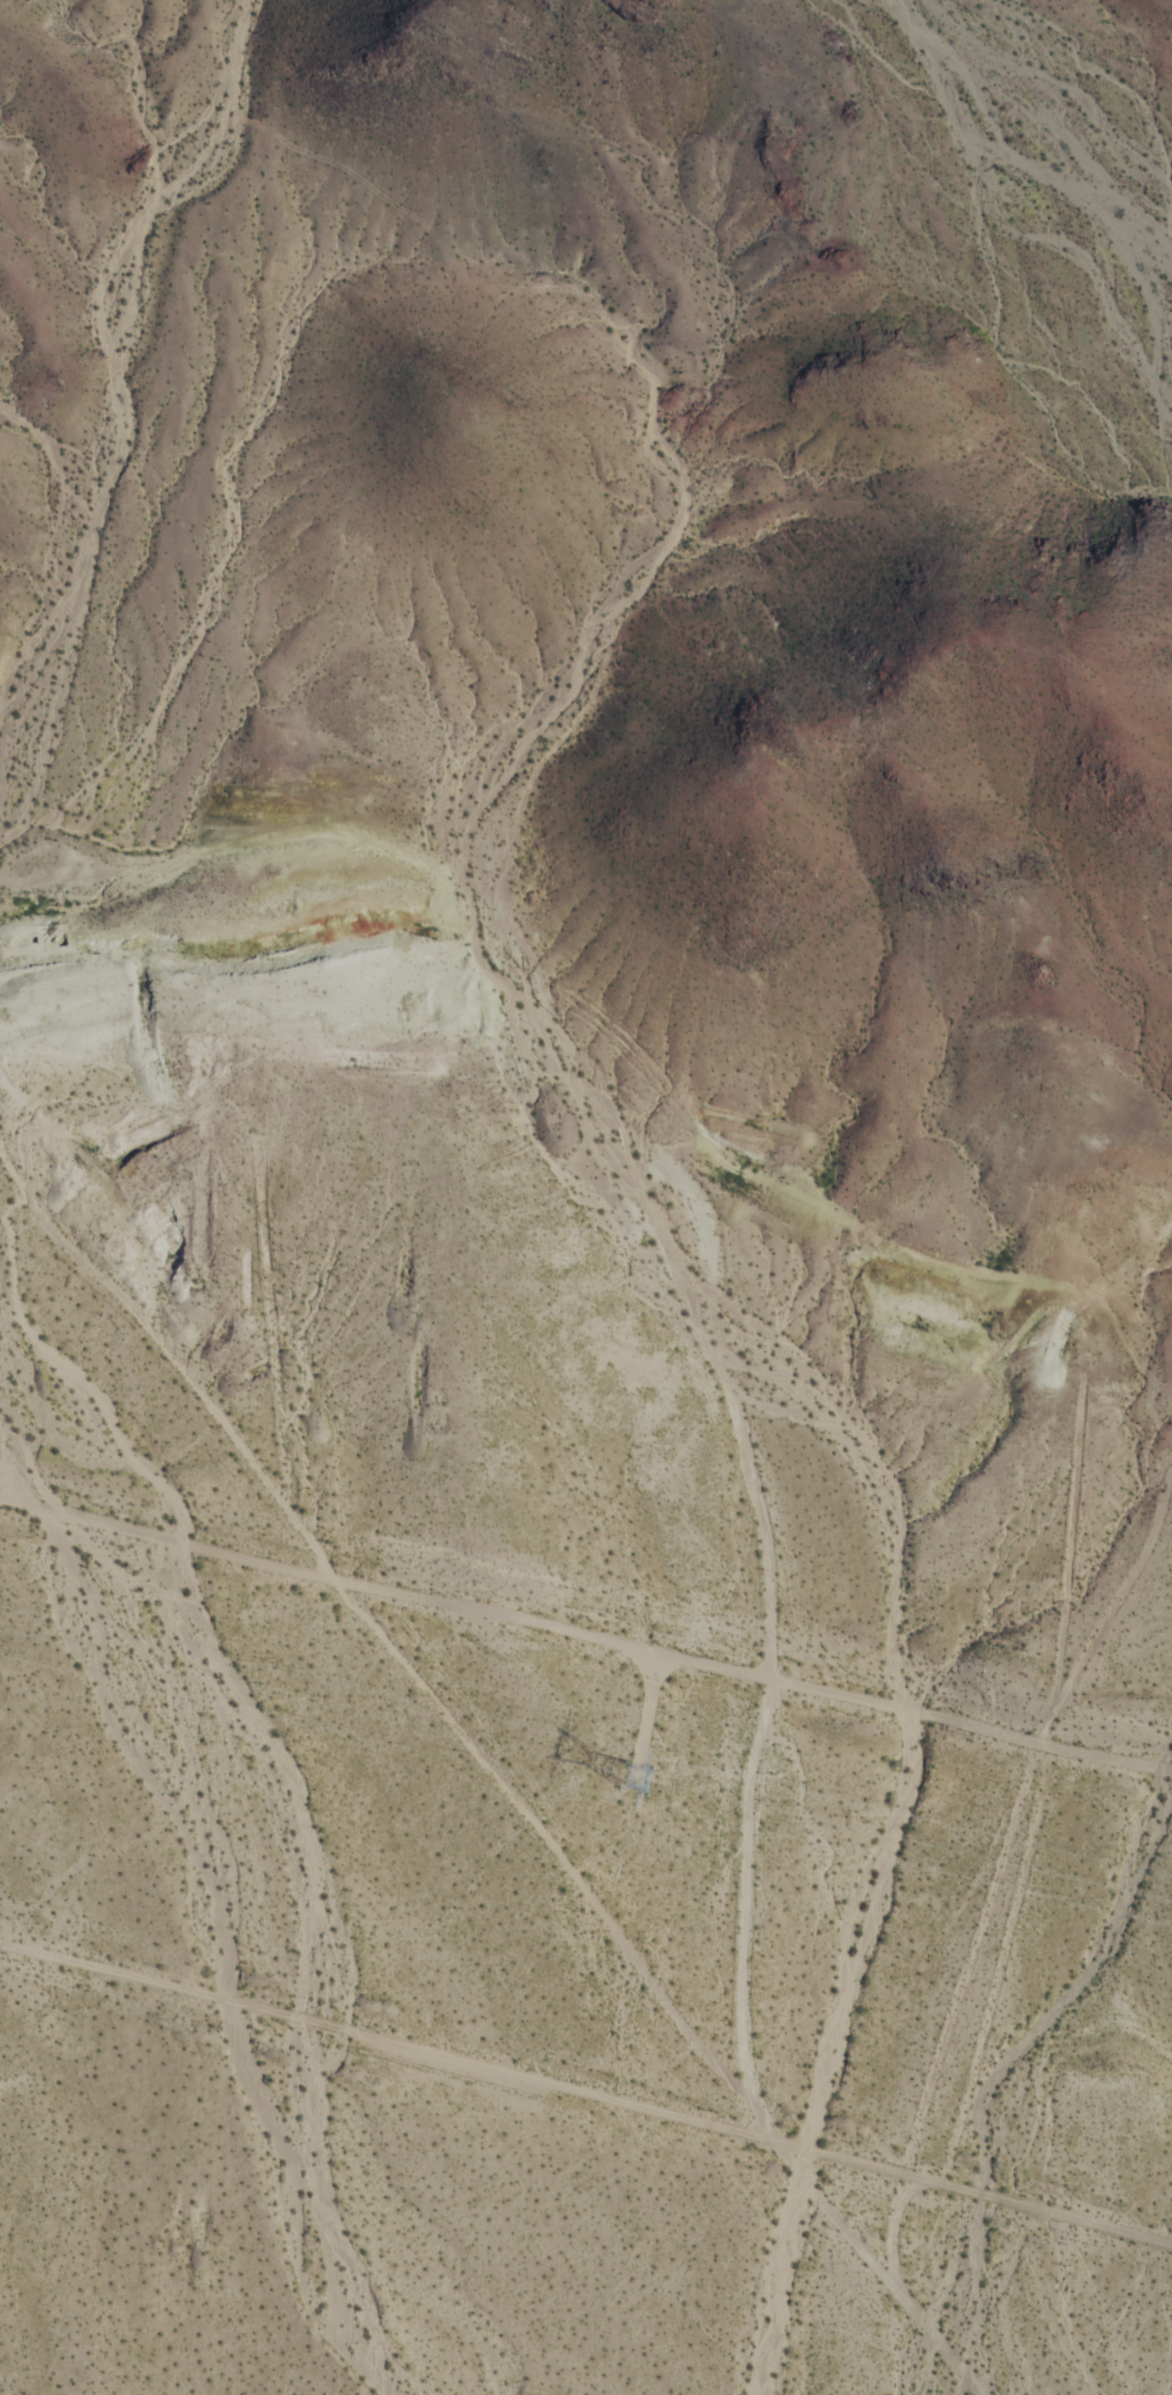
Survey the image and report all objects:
road: (130, 415)
road: (585, 1621)
road: (341, 1625)
road: (770, 1649)
power tower: (640, 1771)
road: (585, 2095)

